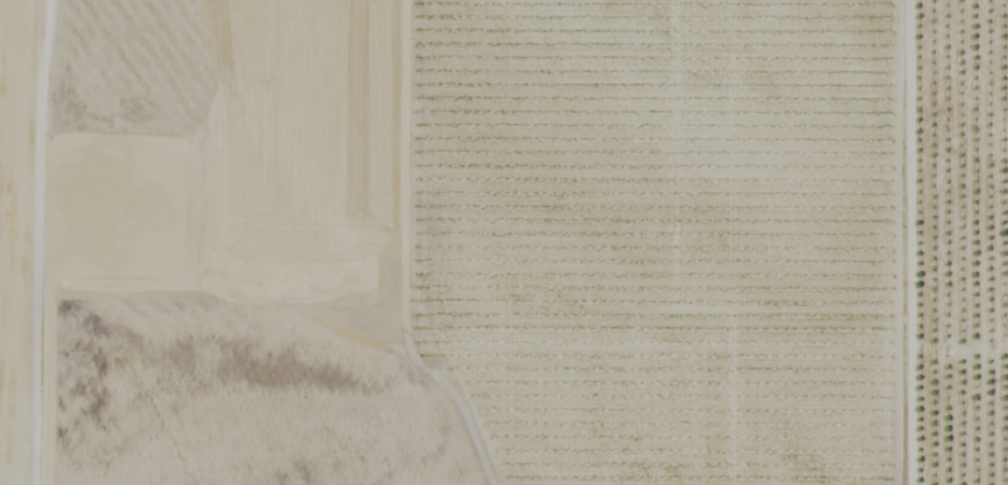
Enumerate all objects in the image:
crop: (504, 242)

